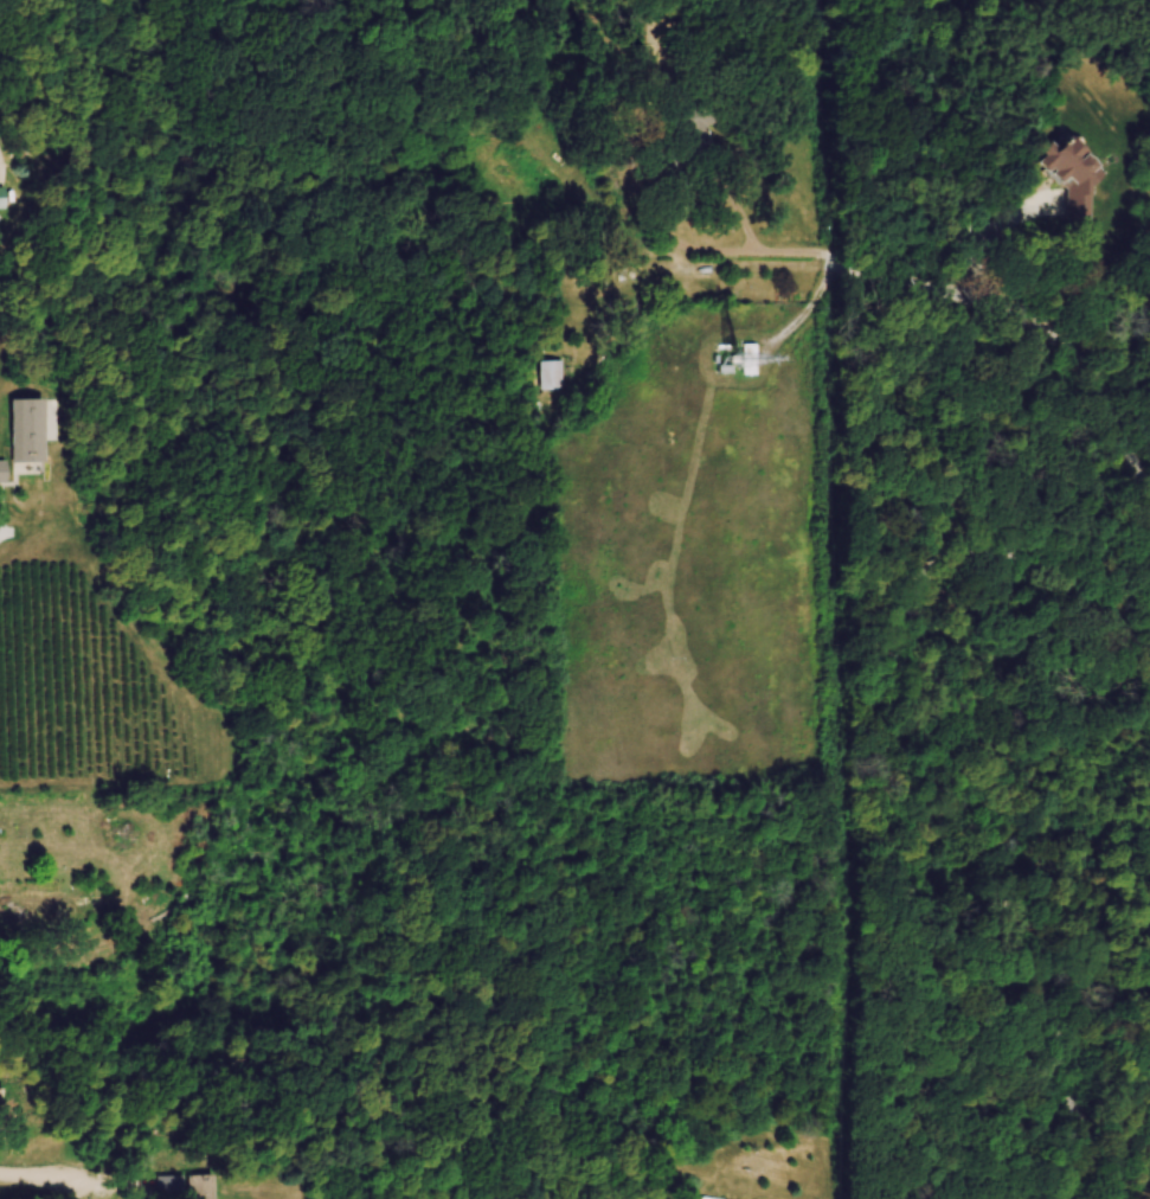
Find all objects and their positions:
building: (700, 135)
building: (1053, 169)
building: (7, 195)
road: (991, 230)
road: (693, 245)
road: (638, 278)
road: (810, 312)
road: (1026, 316)
building: (739, 359)
building: (553, 374)
building: (32, 430)
building: (5, 474)
park: (992, 731)
road: (959, 772)
building: (46, 906)
road: (33, 1179)
road: (101, 1184)
building: (207, 1187)
building: (707, 1198)

